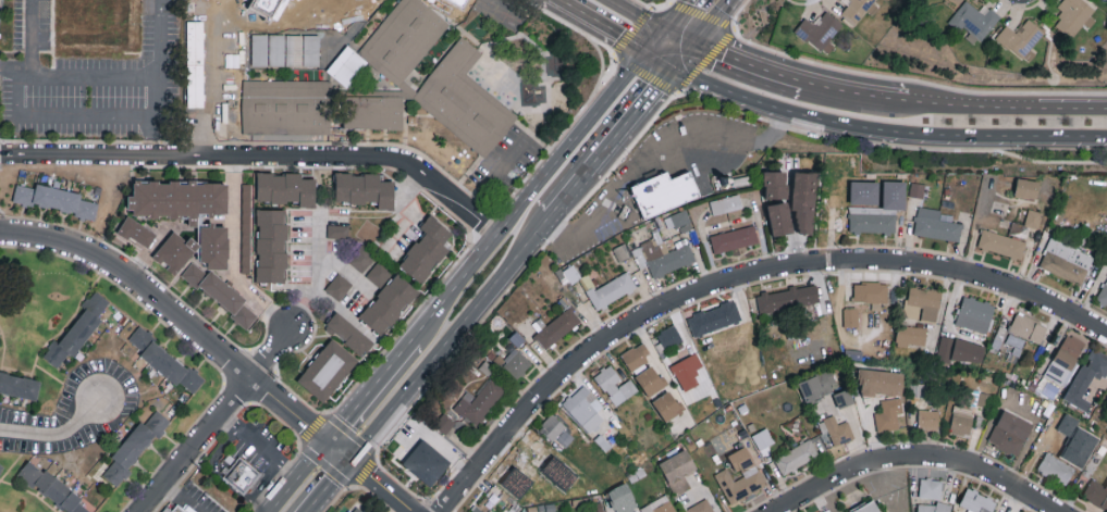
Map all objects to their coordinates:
road: (655, 8)
building: (856, 9)
building: (1073, 15)
road: (700, 20)
building: (973, 20)
road: (645, 21)
road: (218, 23)
building: (821, 29)
road: (595, 33)
road: (723, 35)
road: (1045, 36)
building: (1022, 38)
road: (159, 39)
building: (409, 39)
traffic signals: (685, 40)
building: (268, 49)
building: (303, 49)
road: (28, 50)
road: (671, 52)
road: (602, 61)
building: (346, 64)
traffic signals: (656, 64)
road: (747, 64)
road: (116, 78)
parking lot: (218, 78)
road: (894, 78)
building: (407, 89)
road: (857, 93)
road: (589, 99)
building: (468, 103)
road: (1004, 109)
building: (320, 112)
road: (59, 116)
road: (875, 132)
road: (152, 138)
road: (610, 142)
road: (888, 145)
road: (655, 150)
road: (261, 158)
road: (686, 163)
parking lot: (508, 166)
road: (497, 178)
building: (775, 184)
building: (1026, 187)
building: (917, 188)
building: (283, 190)
building: (365, 191)
road: (529, 193)
building: (661, 195)
building: (835, 198)
building: (177, 199)
building: (804, 199)
building: (56, 202)
building: (726, 202)
building: (998, 207)
building: (780, 217)
building: (1033, 217)
building: (872, 218)
building: (679, 220)
building: (936, 224)
building: (246, 229)
building: (337, 229)
building: (137, 233)
building: (734, 238)
building: (1001, 243)
building: (271, 246)
building: (213, 247)
building: (425, 251)
building: (173, 252)
road: (233, 257)
building: (360, 259)
building: (1066, 261)
building: (246, 263)
road: (320, 272)
building: (378, 275)
road: (734, 278)
building: (339, 287)
building: (612, 289)
building: (871, 290)
building: (1103, 294)
building: (219, 297)
road: (422, 301)
building: (786, 302)
building: (922, 302)
building: (386, 305)
building: (974, 313)
road: (174, 316)
building: (850, 316)
building: (714, 319)
building: (557, 327)
building: (1028, 327)
building: (77, 334)
building: (911, 334)
building: (348, 336)
building: (668, 338)
road: (448, 340)
building: (1014, 340)
building: (961, 349)
building: (635, 357)
building: (1065, 359)
building: (164, 361)
building: (516, 363)
building: (685, 372)
building: (327, 373)
road: (666, 374)
building: (1086, 377)
building: (881, 382)
building: (648, 383)
building: (817, 385)
building: (613, 386)
building: (17, 388)
road: (369, 389)
building: (844, 397)
building: (470, 403)
building: (665, 408)
building: (583, 409)
building: (888, 413)
road: (325, 415)
road: (217, 419)
building: (928, 419)
building: (961, 420)
building: (444, 423)
park: (711, 426)
building: (555, 432)
building: (1010, 432)
road: (58, 433)
building: (835, 433)
building: (1050, 434)
building: (761, 438)
traffic signals: (328, 441)
road: (258, 447)
building: (134, 448)
road: (340, 450)
building: (795, 458)
road: (915, 458)
road: (312, 459)
traffic signals: (352, 461)
building: (416, 461)
building: (534, 465)
building: (1, 466)
building: (1055, 469)
building: (676, 471)
building: (738, 476)
road: (276, 479)
building: (246, 485)
road: (330, 486)
road: (382, 486)
road: (884, 487)
building: (931, 487)
building: (47, 491)
building: (1096, 492)
road: (284, 495)
road: (336, 497)
road: (828, 498)
road: (179, 499)
building: (620, 499)
building: (977, 501)
building: (657, 505)
building: (700, 507)
building: (868, 507)
building: (932, 507)
building: (348, 510)
building: (357, 510)
building: (475, 510)
building: (181, 511)
building: (822, 511)

